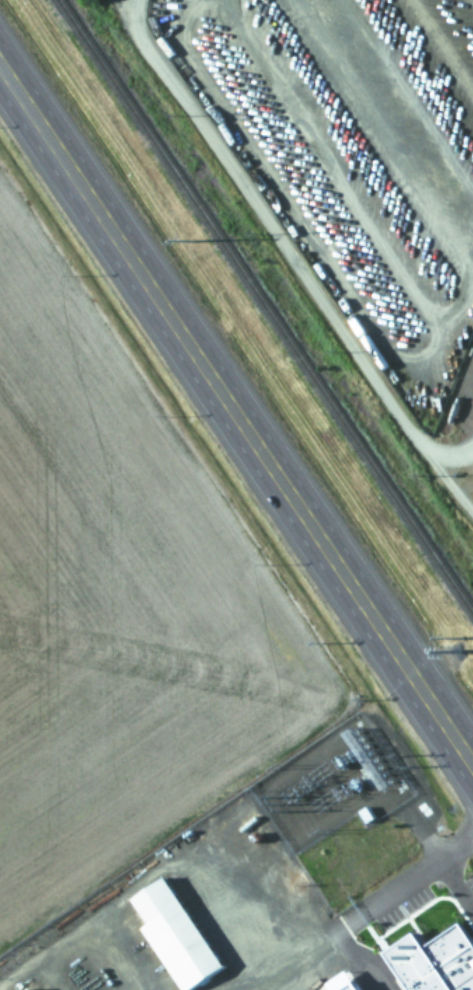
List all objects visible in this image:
power tower: (190, 240)
railway: (265, 307)
road: (236, 420)
crop: (119, 609)
power tower: (460, 637)
power tower: (456, 648)
power substation: (330, 786)
building: (176, 924)
building: (434, 962)
building: (350, 987)
building: (31, 989)

